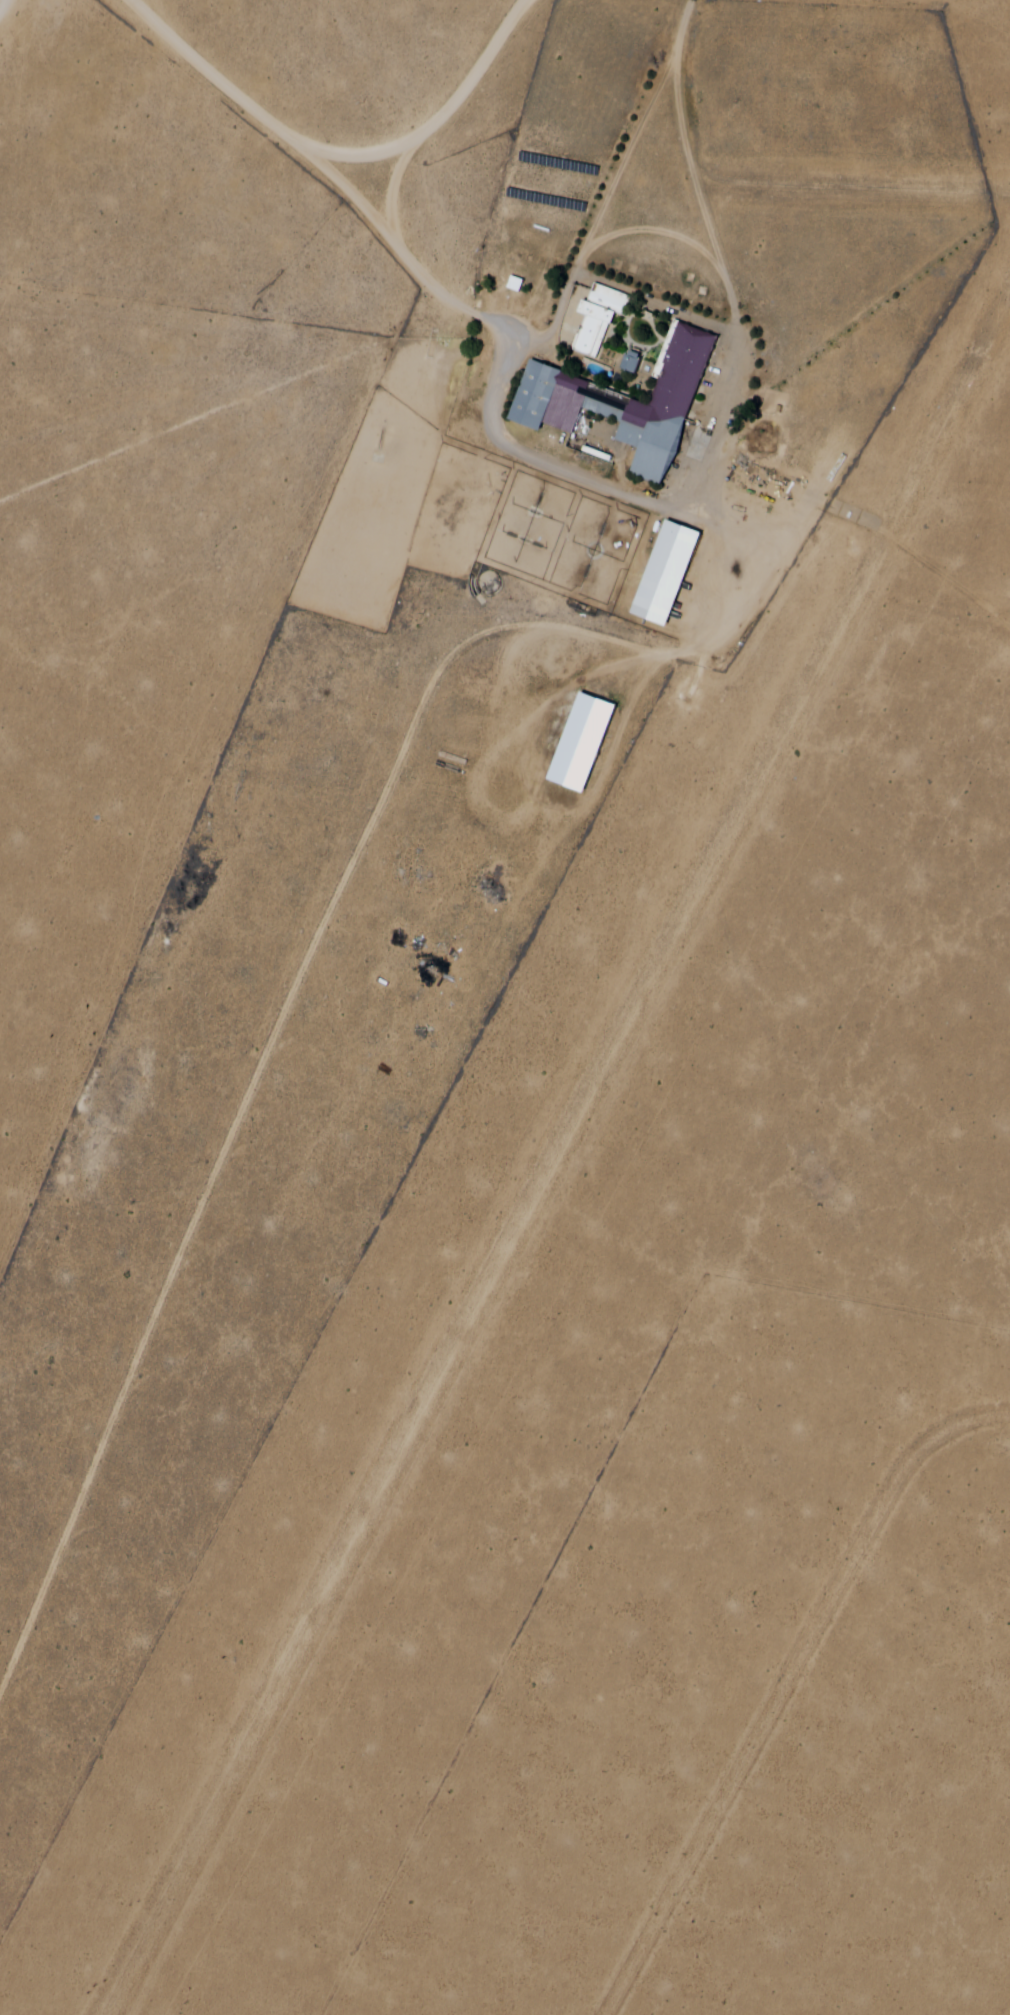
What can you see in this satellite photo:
road: (2, 2)
road: (682, 91)
road: (344, 154)
road: (763, 186)
airport runway: (913, 193)
road: (657, 235)
road: (740, 319)
building: (594, 328)
road: (525, 358)
building: (631, 361)
building: (627, 372)
building: (687, 377)
building: (599, 423)
airport taxiway: (804, 496)
building: (662, 570)
road: (949, 576)
building: (497, 585)
road: (675, 652)
building: (342, 670)
building: (579, 739)
airport runway: (557, 1160)
road: (224, 1183)
road: (787, 1691)

